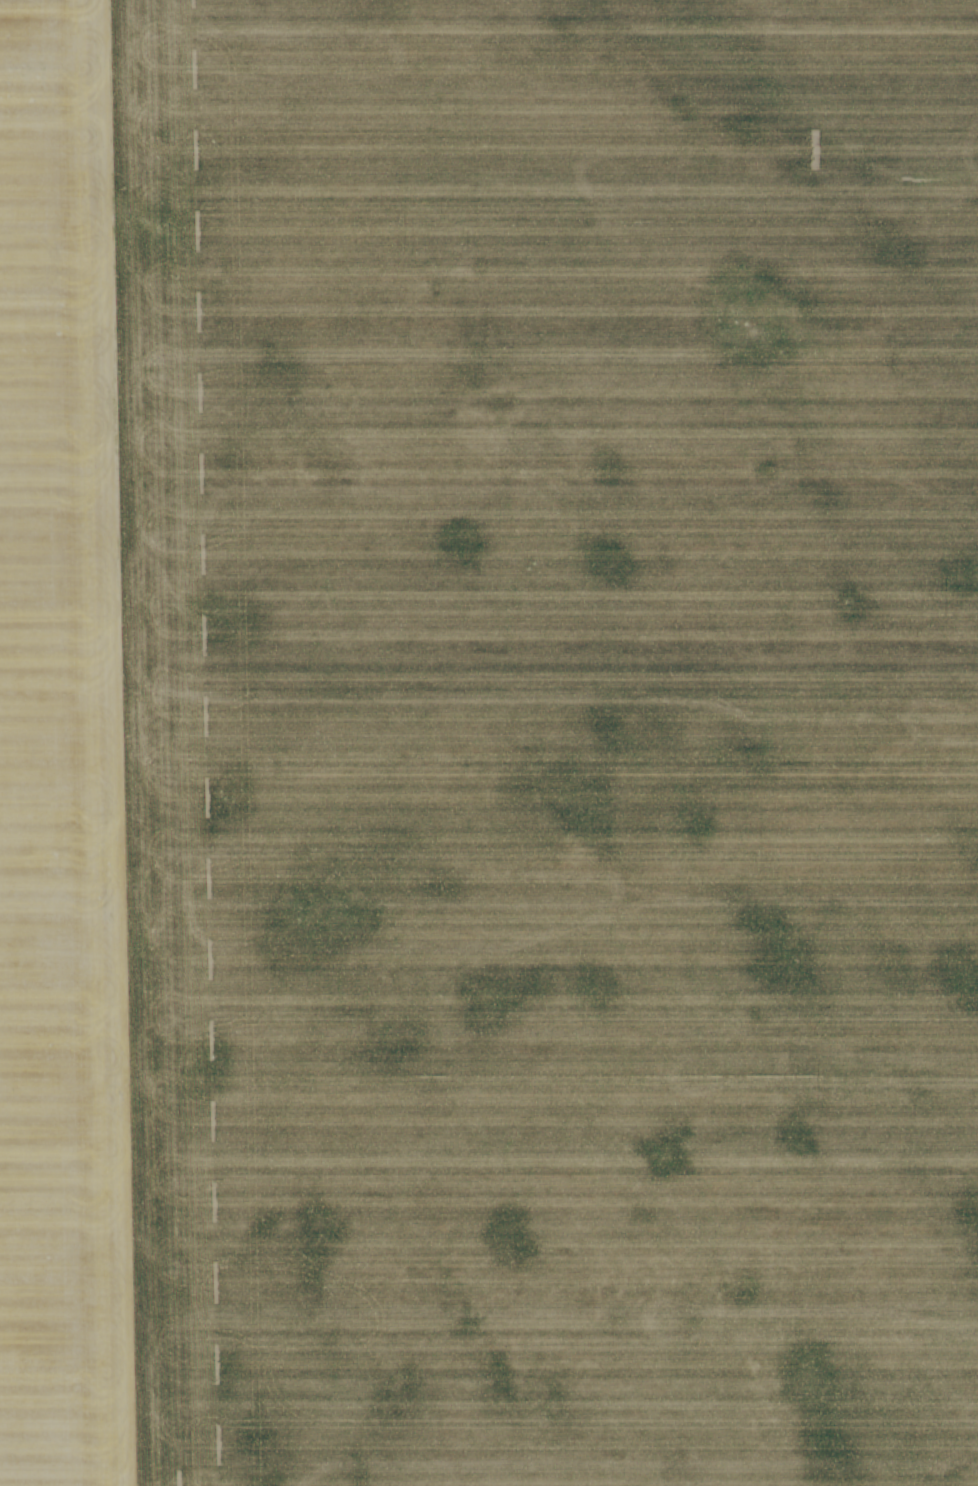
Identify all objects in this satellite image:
crop: (60, 765)

